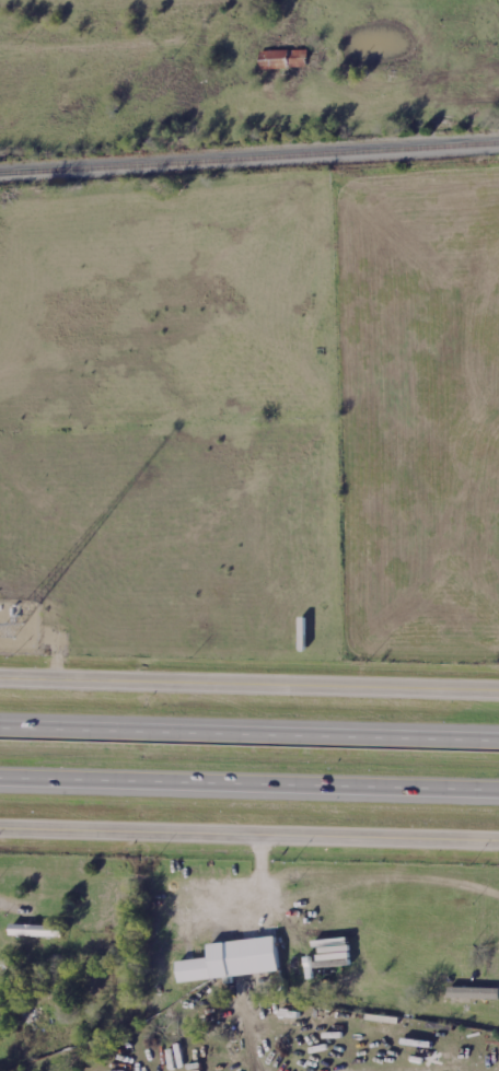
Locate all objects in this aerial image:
building: (280, 62)
railway: (248, 159)
road: (249, 686)
road: (249, 736)
road: (249, 787)
road: (249, 837)
road: (12, 909)
building: (34, 933)
building: (229, 963)

